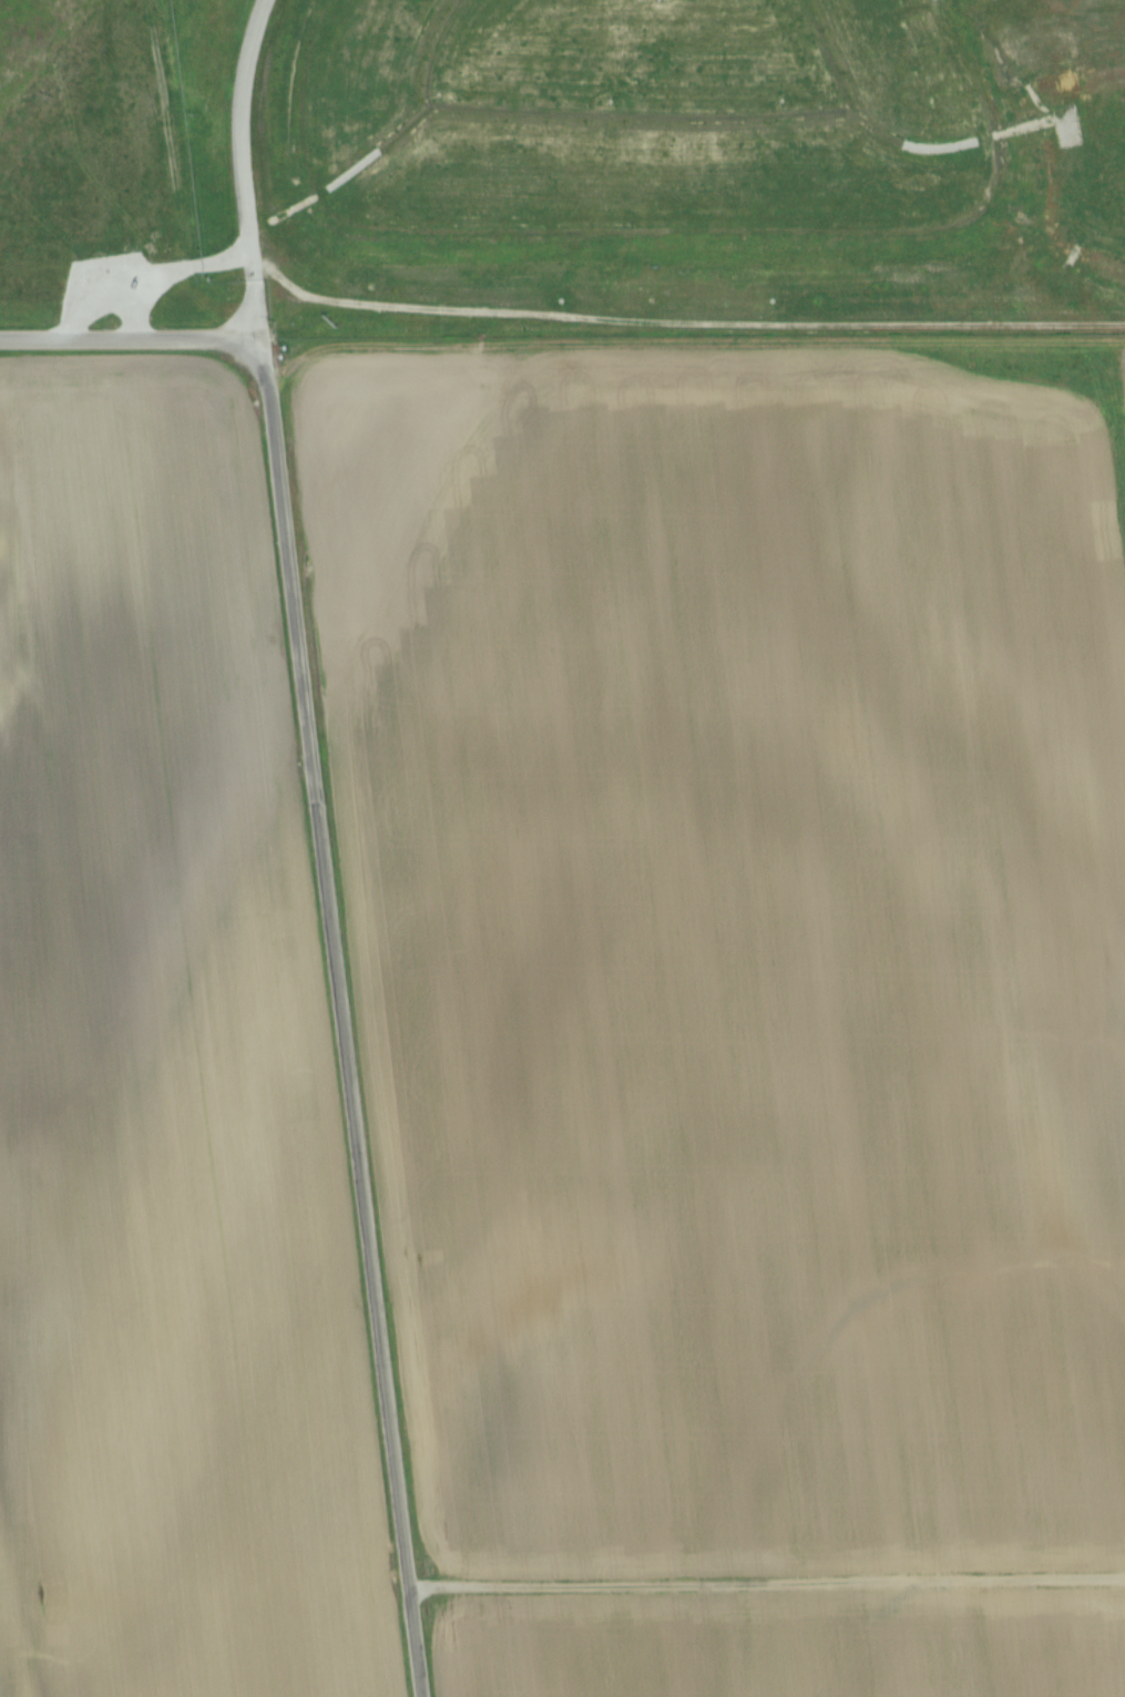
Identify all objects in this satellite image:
road: (248, 226)
road: (252, 293)
road: (133, 311)
road: (124, 338)
road: (341, 1014)
road: (767, 1582)

